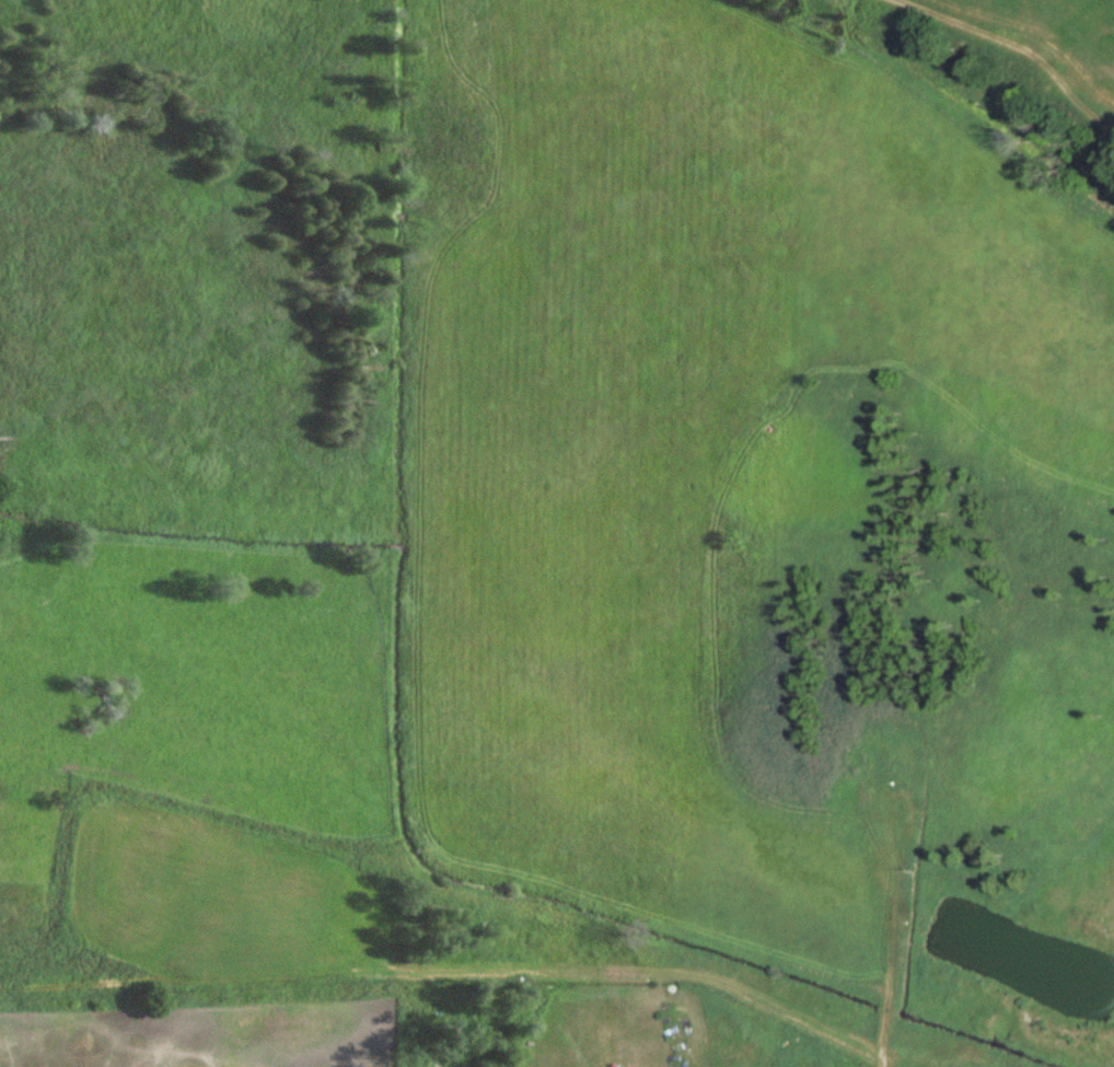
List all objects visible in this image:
road: (863, 979)

